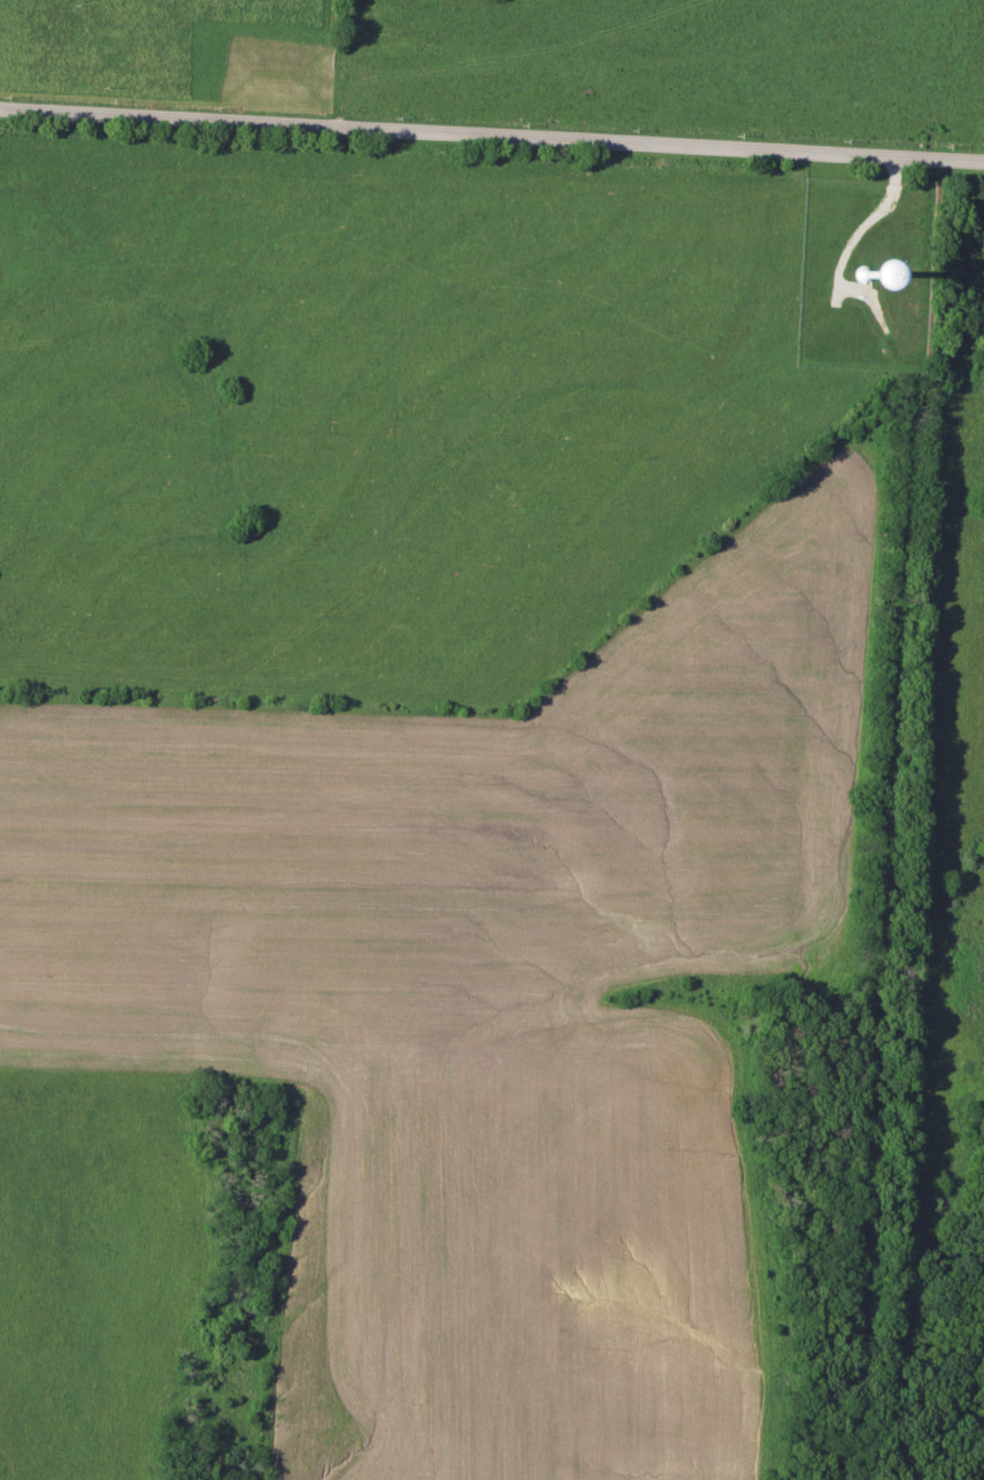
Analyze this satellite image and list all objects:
road: (491, 134)
building: (862, 273)

